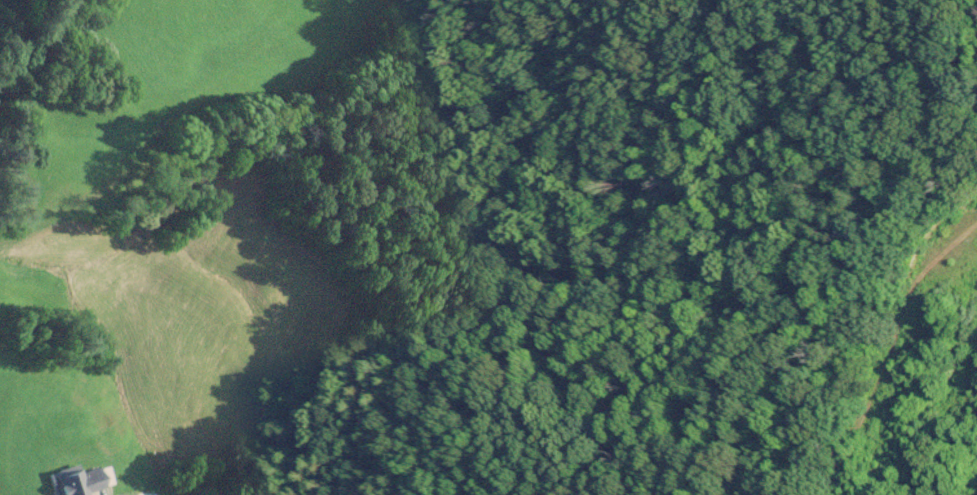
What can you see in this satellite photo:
building: (77, 481)

